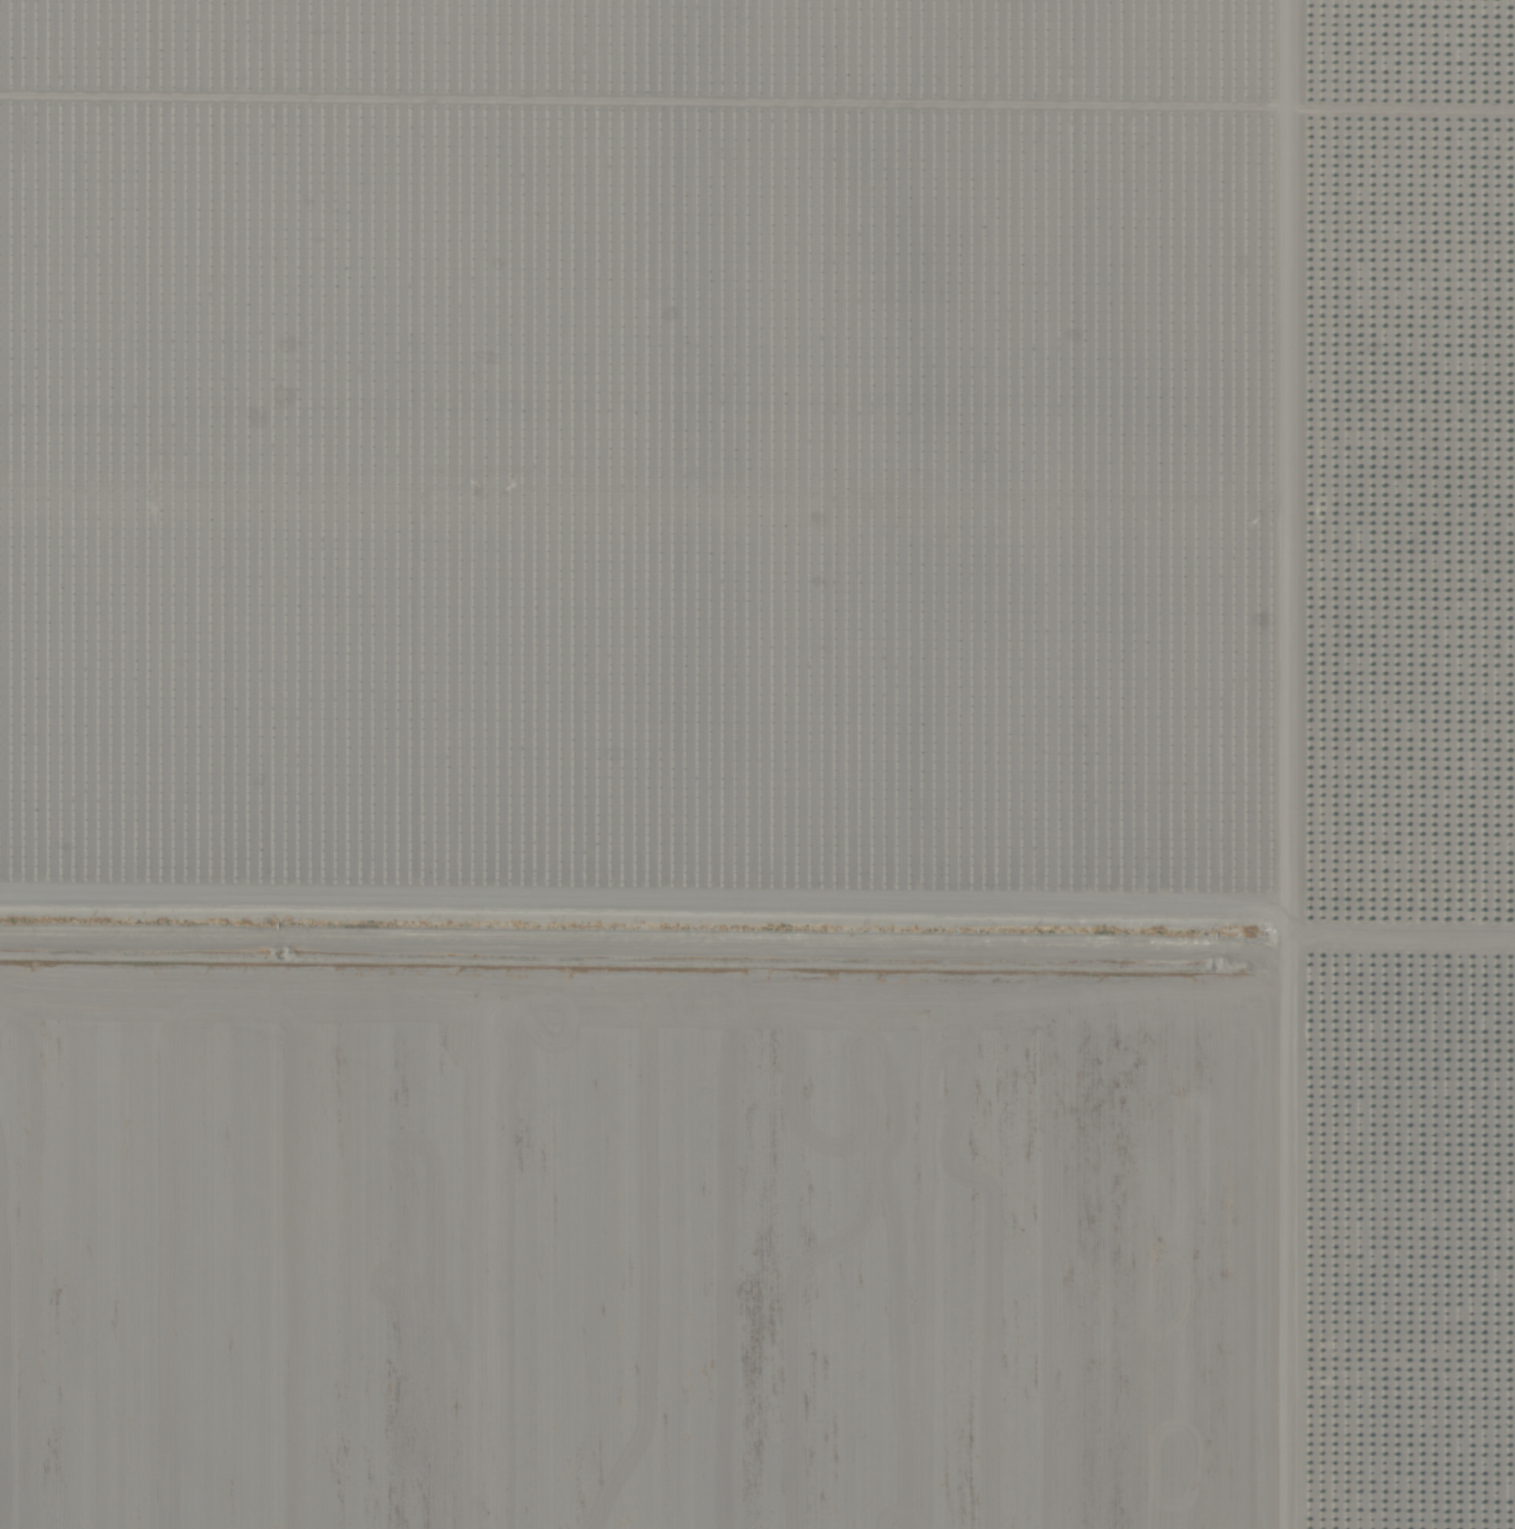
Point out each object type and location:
crop: (757, 764)
road: (1299, 764)

